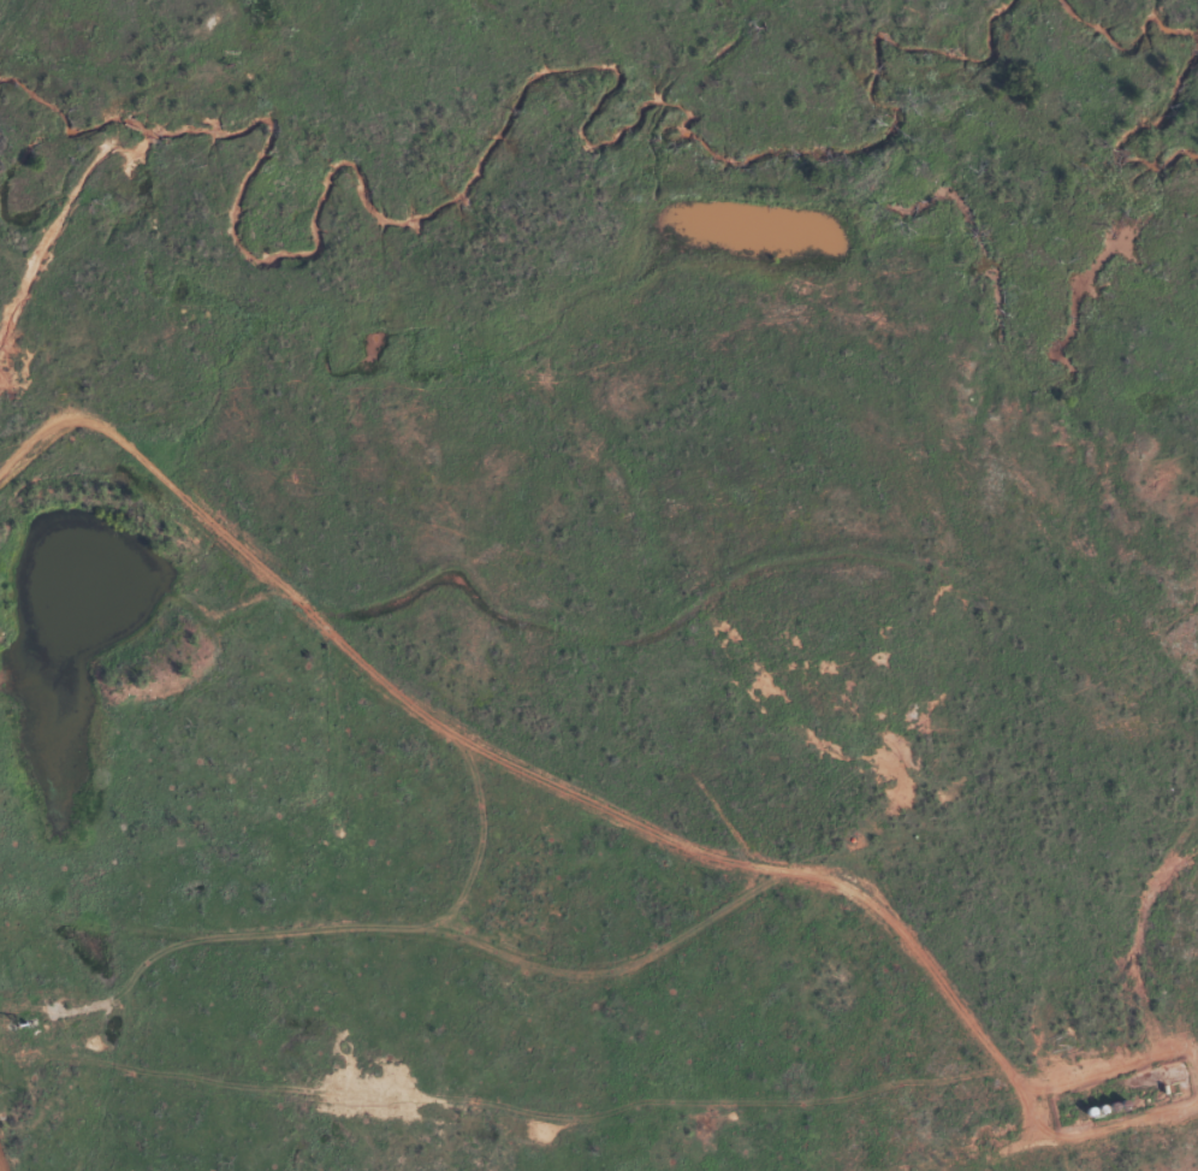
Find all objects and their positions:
road: (83, 201)
road: (544, 951)
road: (12, 965)
road: (60, 972)

